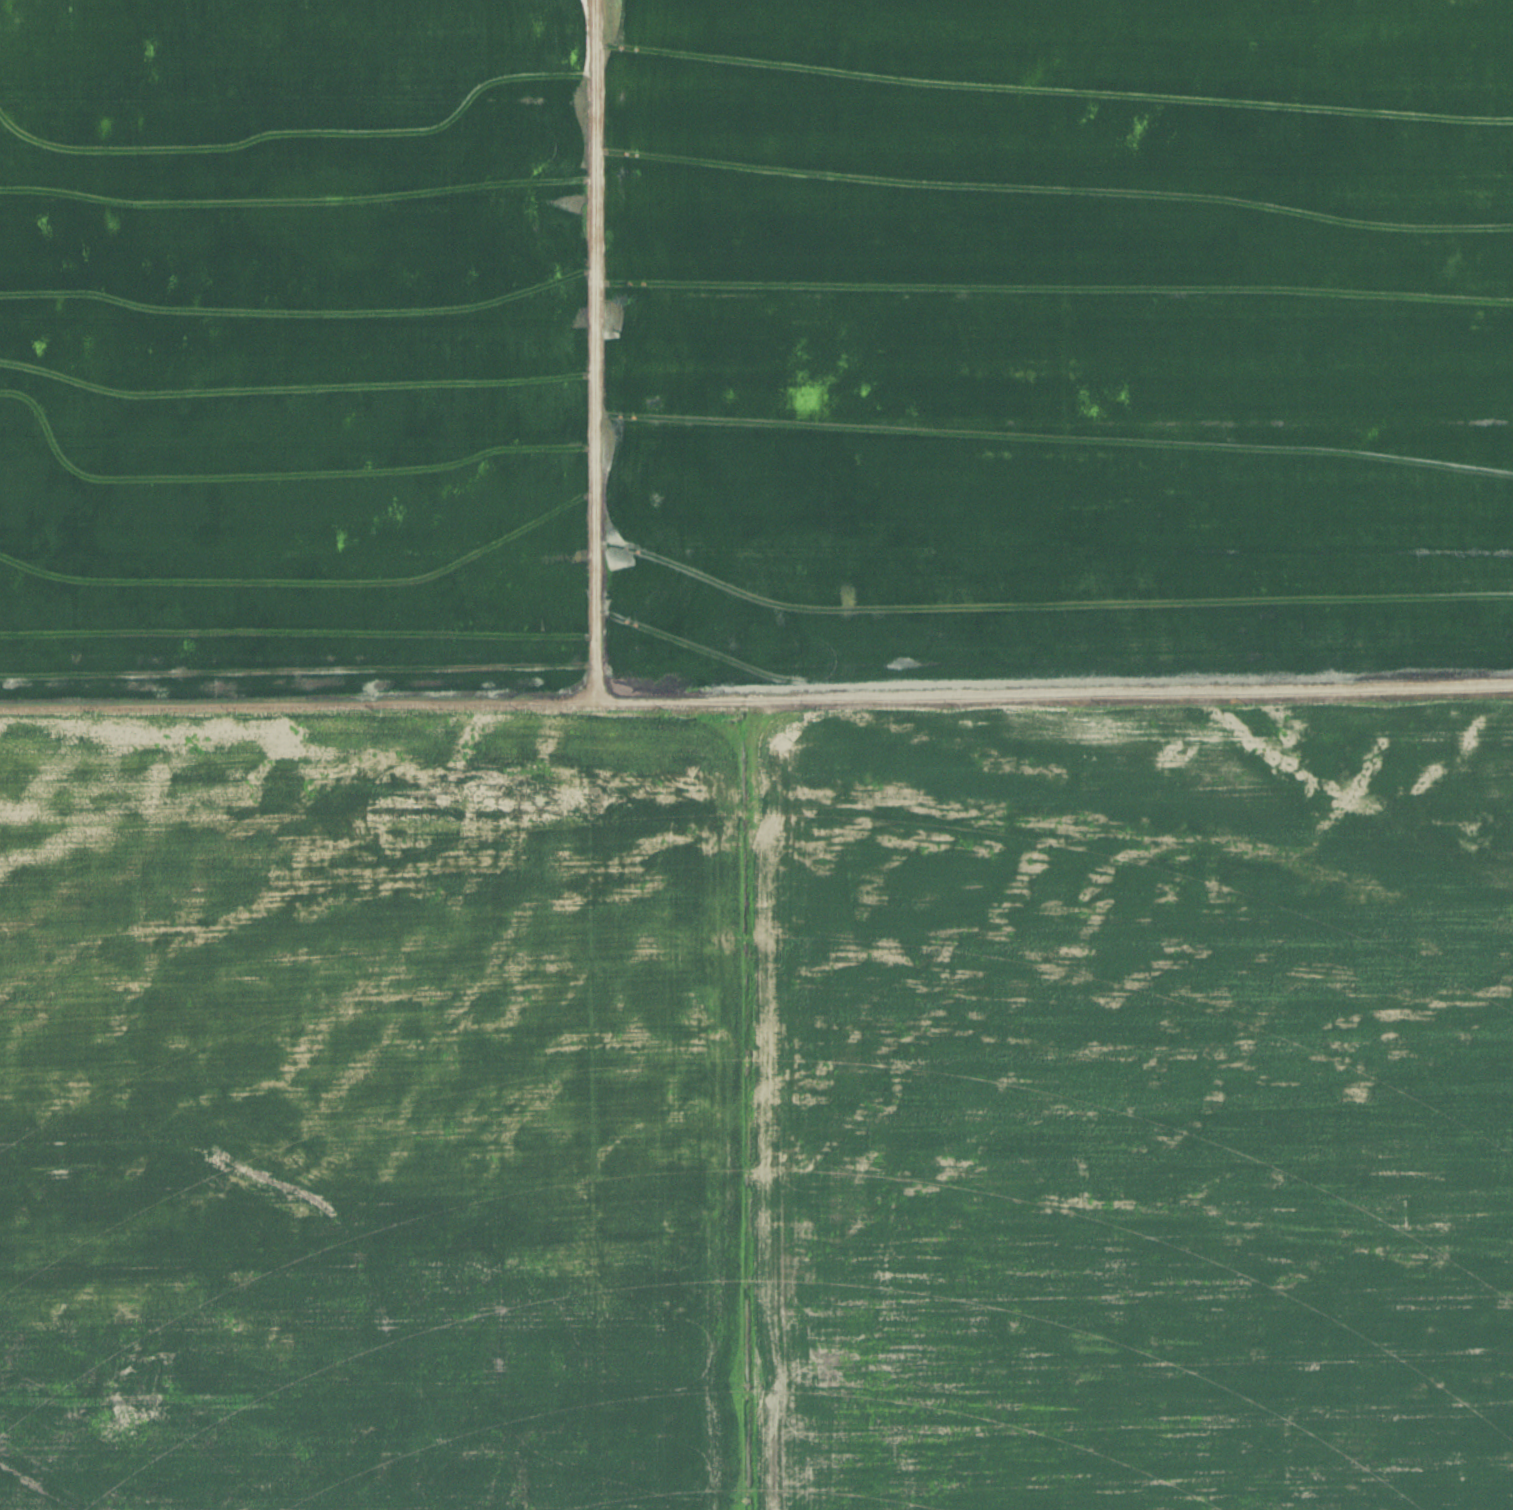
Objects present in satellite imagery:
road: (565, 892)

